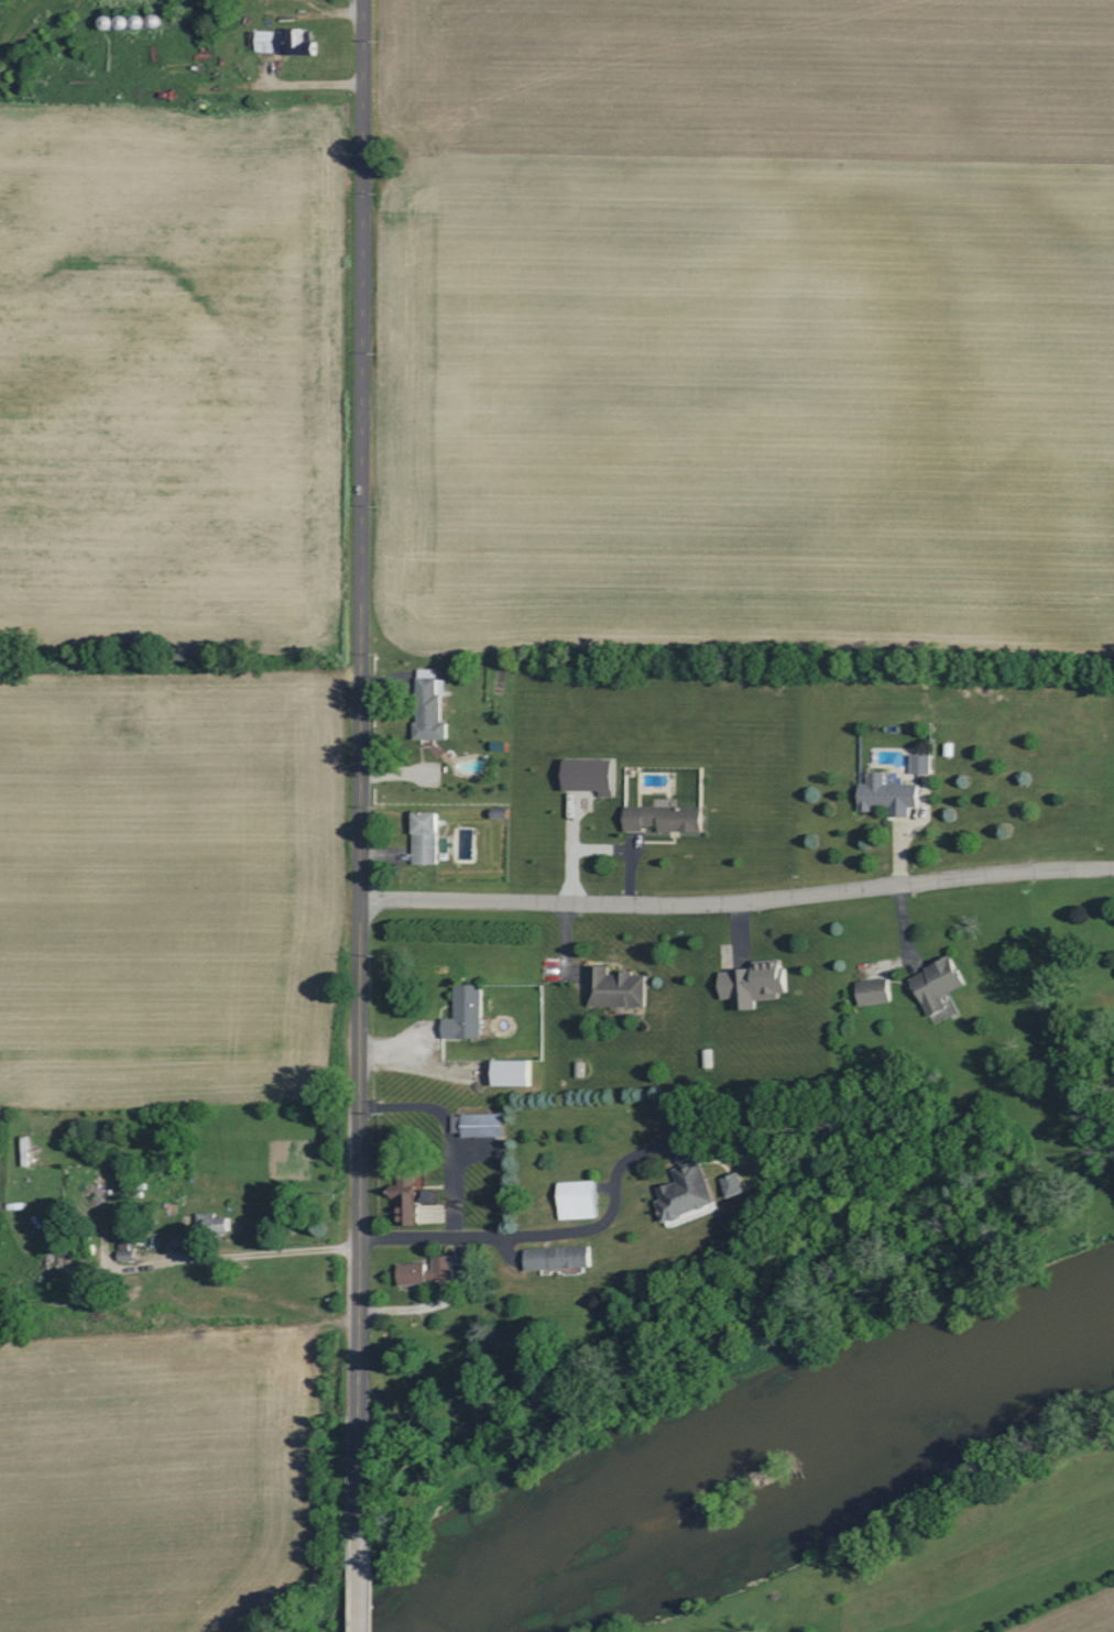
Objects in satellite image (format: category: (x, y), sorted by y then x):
building: (263, 41)
building: (297, 43)
road: (265, 45)
building: (430, 705)
building: (922, 764)
road: (358, 775)
building: (592, 775)
building: (889, 796)
building: (665, 817)
building: (427, 837)
road: (736, 900)
building: (755, 983)
building: (939, 984)
building: (616, 987)
building: (875, 990)
building: (467, 1012)
building: (514, 1073)
building: (479, 1125)
building: (735, 1184)
building: (687, 1192)
building: (409, 1195)
building: (429, 1196)
building: (579, 1200)
road: (483, 1234)
road: (242, 1251)
building: (127, 1252)
building: (560, 1258)
building: (428, 1271)
river: (769, 1467)
road: (360, 1591)

